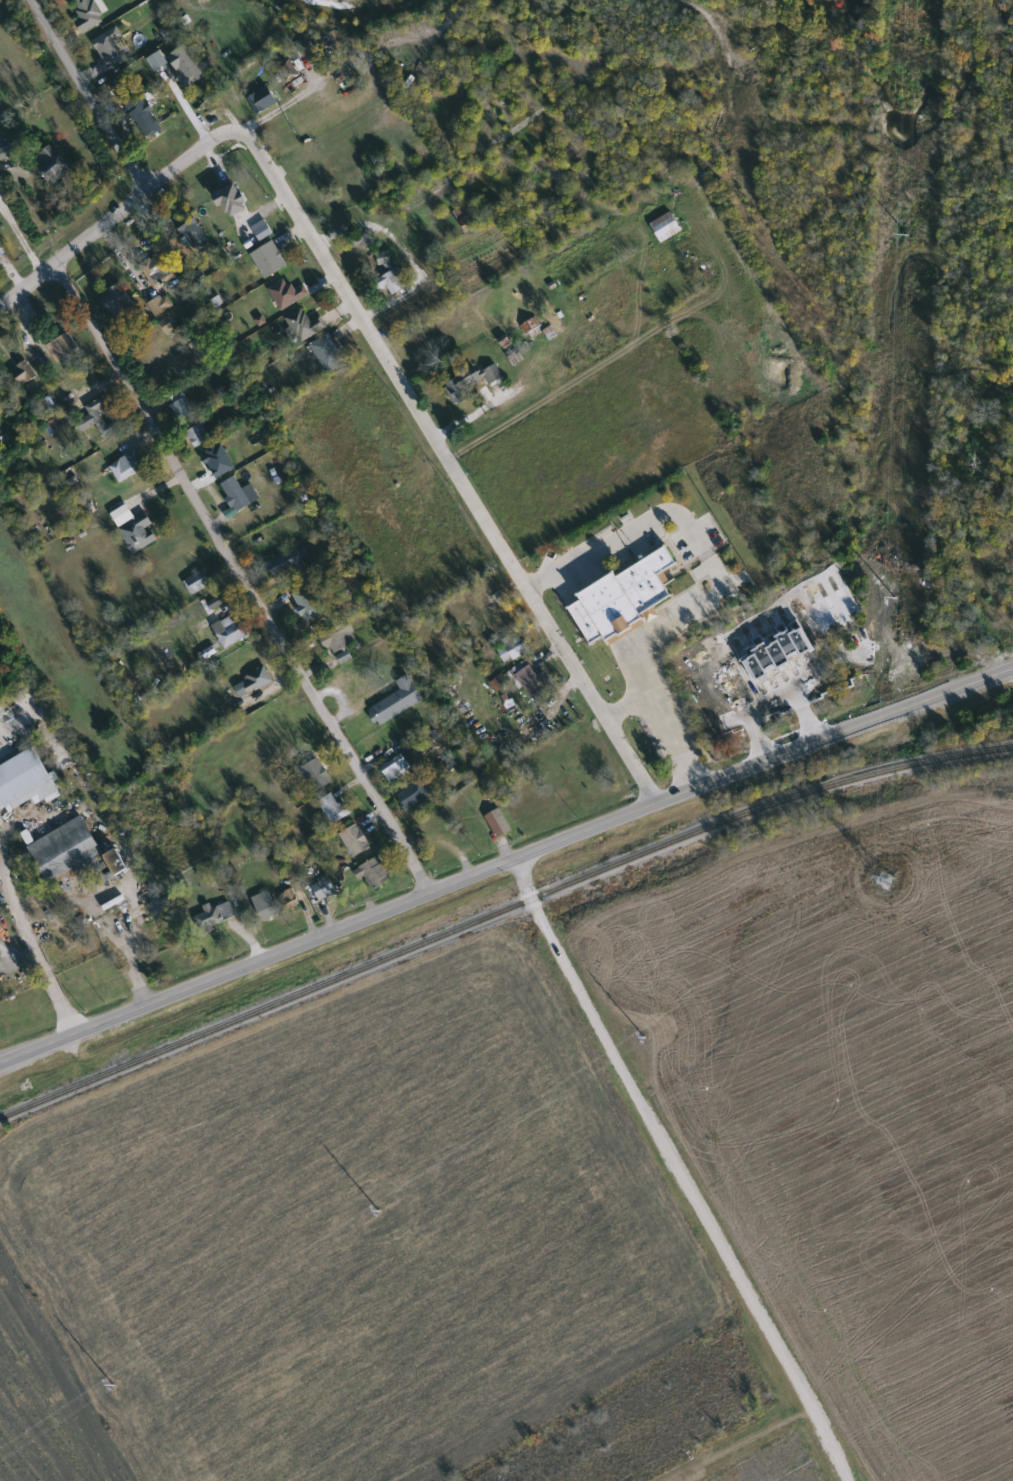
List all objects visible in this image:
building: (85, 14)
building: (109, 46)
building: (187, 66)
road: (89, 95)
building: (270, 103)
building: (145, 117)
building: (7, 151)
building: (52, 161)
building: (233, 201)
building: (464, 218)
road: (110, 219)
building: (666, 227)
building: (194, 232)
power tower: (907, 237)
road: (21, 239)
building: (365, 241)
road: (402, 246)
building: (2, 251)
building: (269, 259)
building: (158, 269)
building: (390, 280)
building: (118, 302)
building: (162, 305)
building: (169, 324)
building: (305, 324)
building: (531, 327)
building: (551, 331)
building: (63, 347)
building: (202, 349)
building: (328, 353)
building: (492, 374)
building: (23, 375)
building: (459, 391)
building: (102, 416)
building: (198, 435)
road: (447, 455)
building: (128, 466)
building: (236, 494)
road: (671, 511)
building: (139, 533)
building: (285, 563)
road: (574, 565)
road: (241, 577)
building: (197, 582)
building: (625, 597)
power tower: (895, 600)
building: (215, 602)
building: (307, 603)
road: (669, 624)
building: (1002, 630)
building: (230, 632)
building: (503, 634)
building: (340, 638)
building: (528, 678)
building: (253, 682)
building: (397, 702)
road: (664, 715)
building: (397, 767)
building: (317, 775)
building: (26, 781)
building: (415, 795)
building: (333, 808)
building: (356, 840)
building: (76, 854)
road: (504, 859)
building: (374, 874)
power tower: (887, 882)
building: (325, 889)
building: (290, 900)
building: (157, 903)
building: (266, 906)
railway: (501, 913)
building: (216, 915)
road: (37, 961)
power tower: (643, 1039)
road: (677, 1169)
power tower: (380, 1212)
power tower: (114, 1386)

